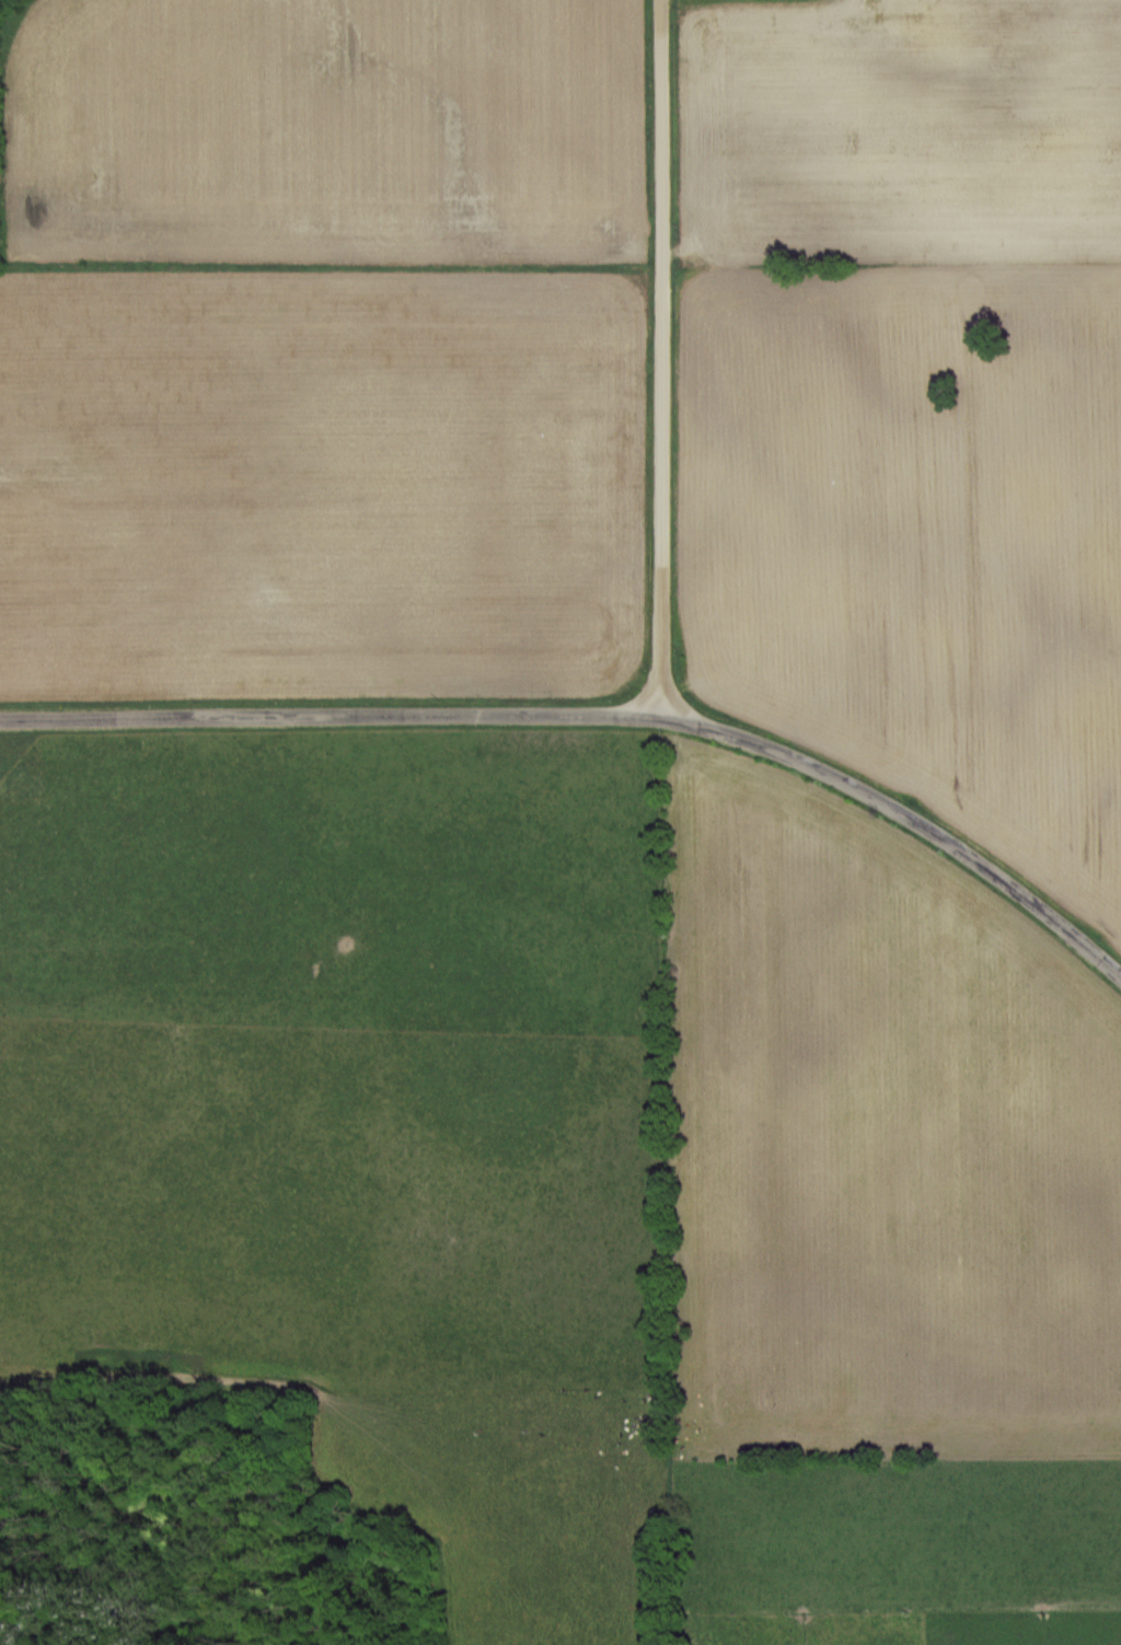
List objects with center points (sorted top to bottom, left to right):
road: (659, 359)
road: (598, 717)

